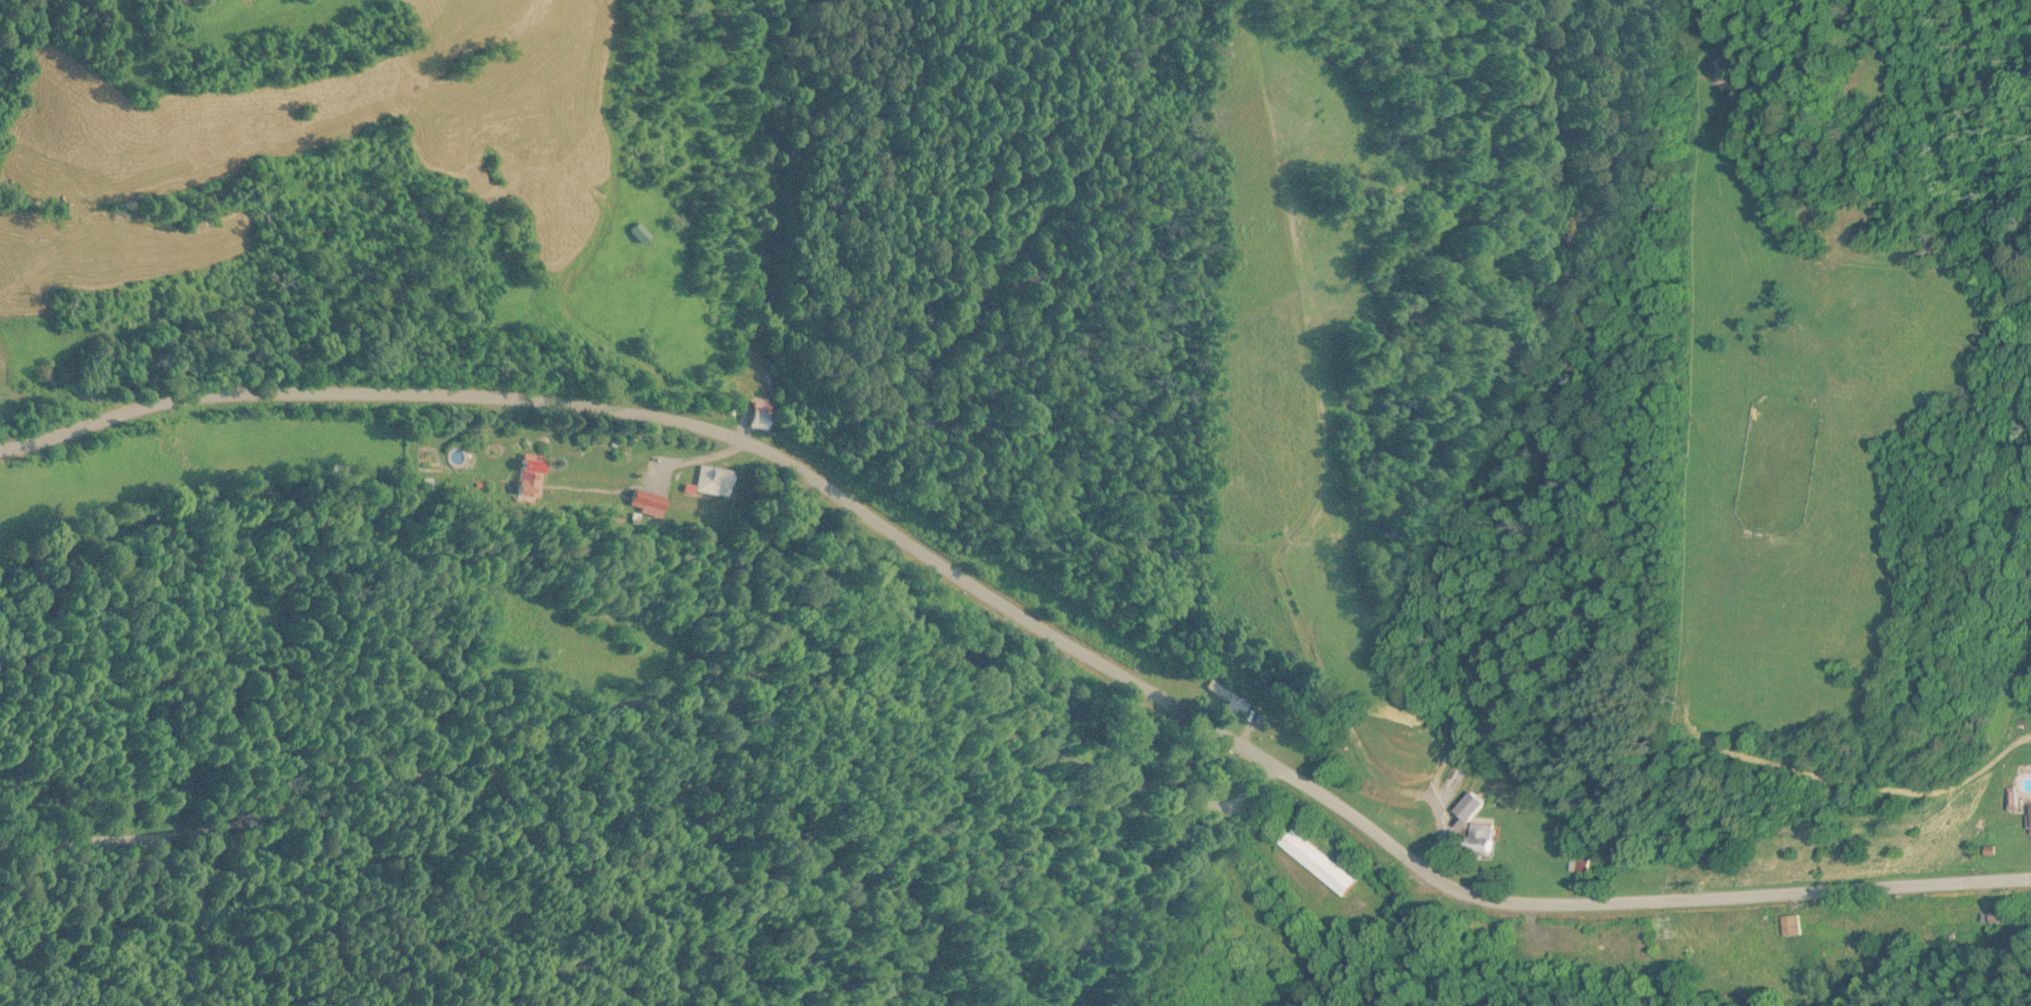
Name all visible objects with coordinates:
building: (759, 417)
building: (532, 476)
building: (715, 482)
building: (649, 504)
road: (1027, 612)
road: (636, 694)
building: (1474, 807)
building: (2029, 820)
building: (1323, 861)
building: (1580, 865)
building: (1790, 926)
building: (1653, 927)
building: (1830, 933)

